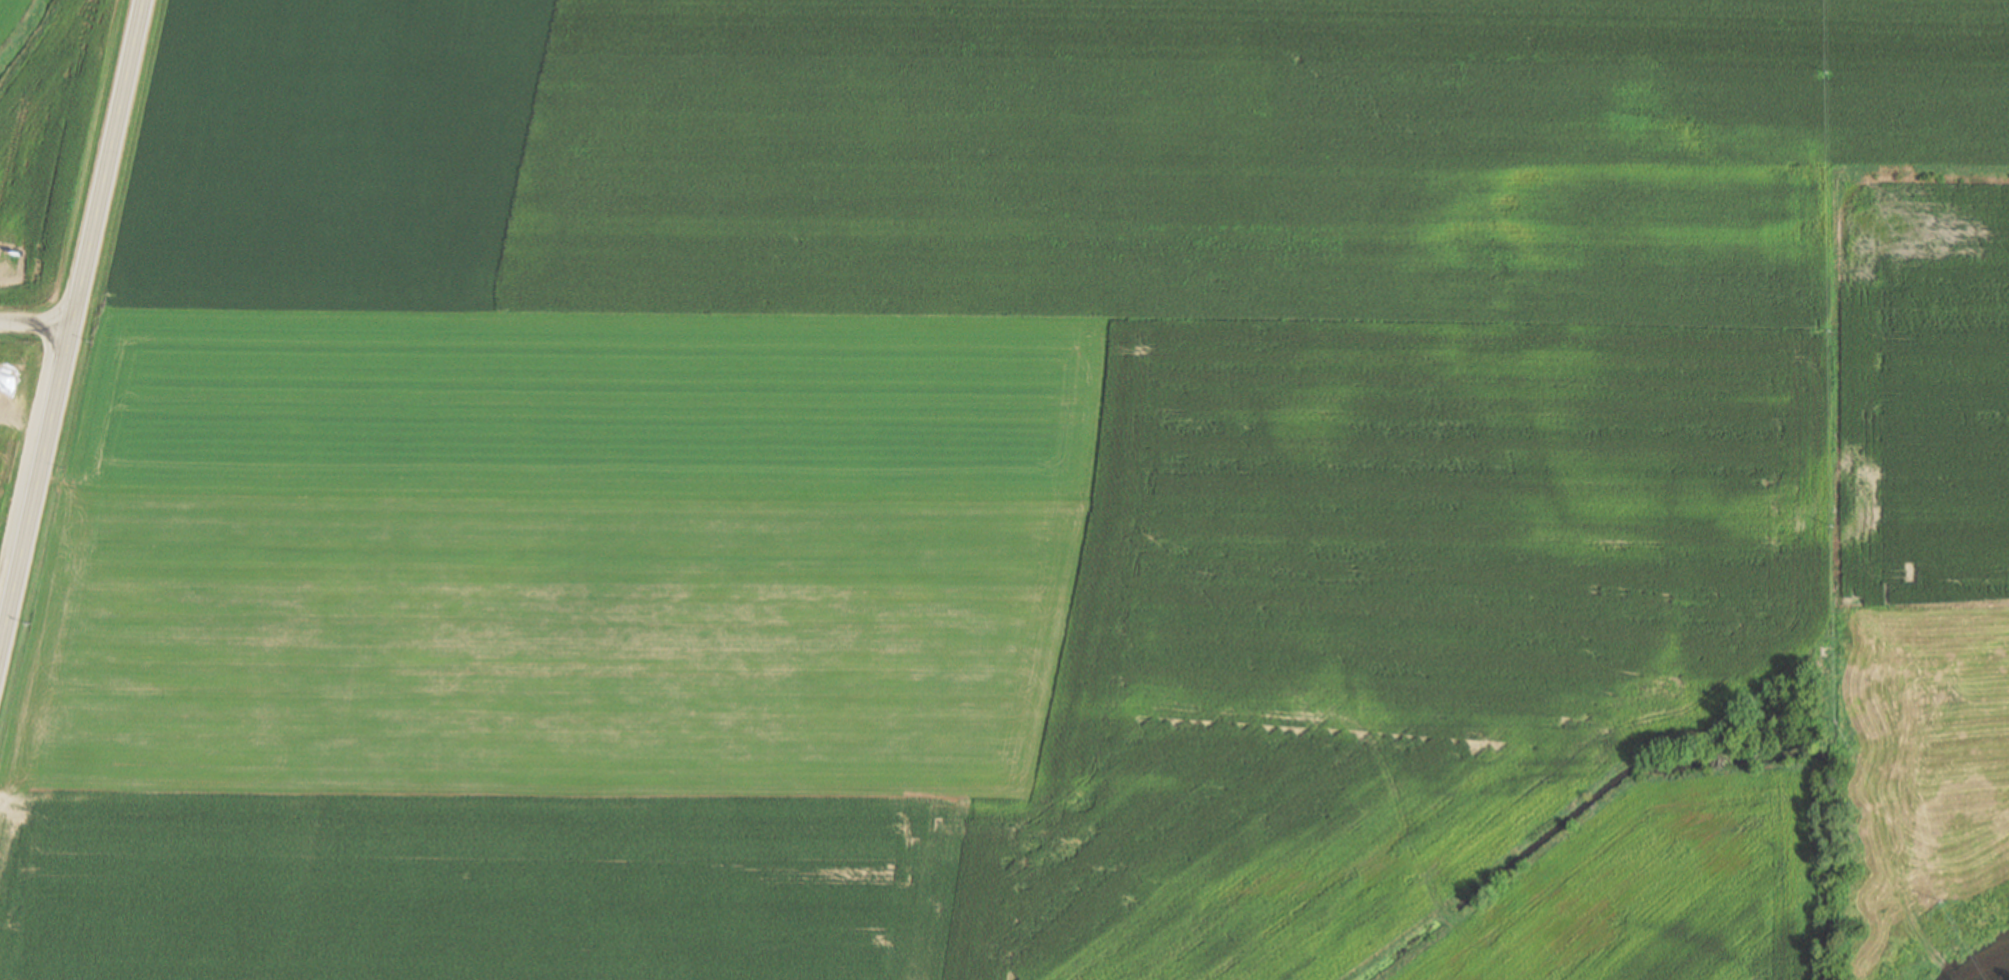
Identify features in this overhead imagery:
crop: (1238, 156)
road: (37, 325)
road: (73, 327)
crop: (1926, 388)
crop: (814, 587)
crop: (1657, 891)

